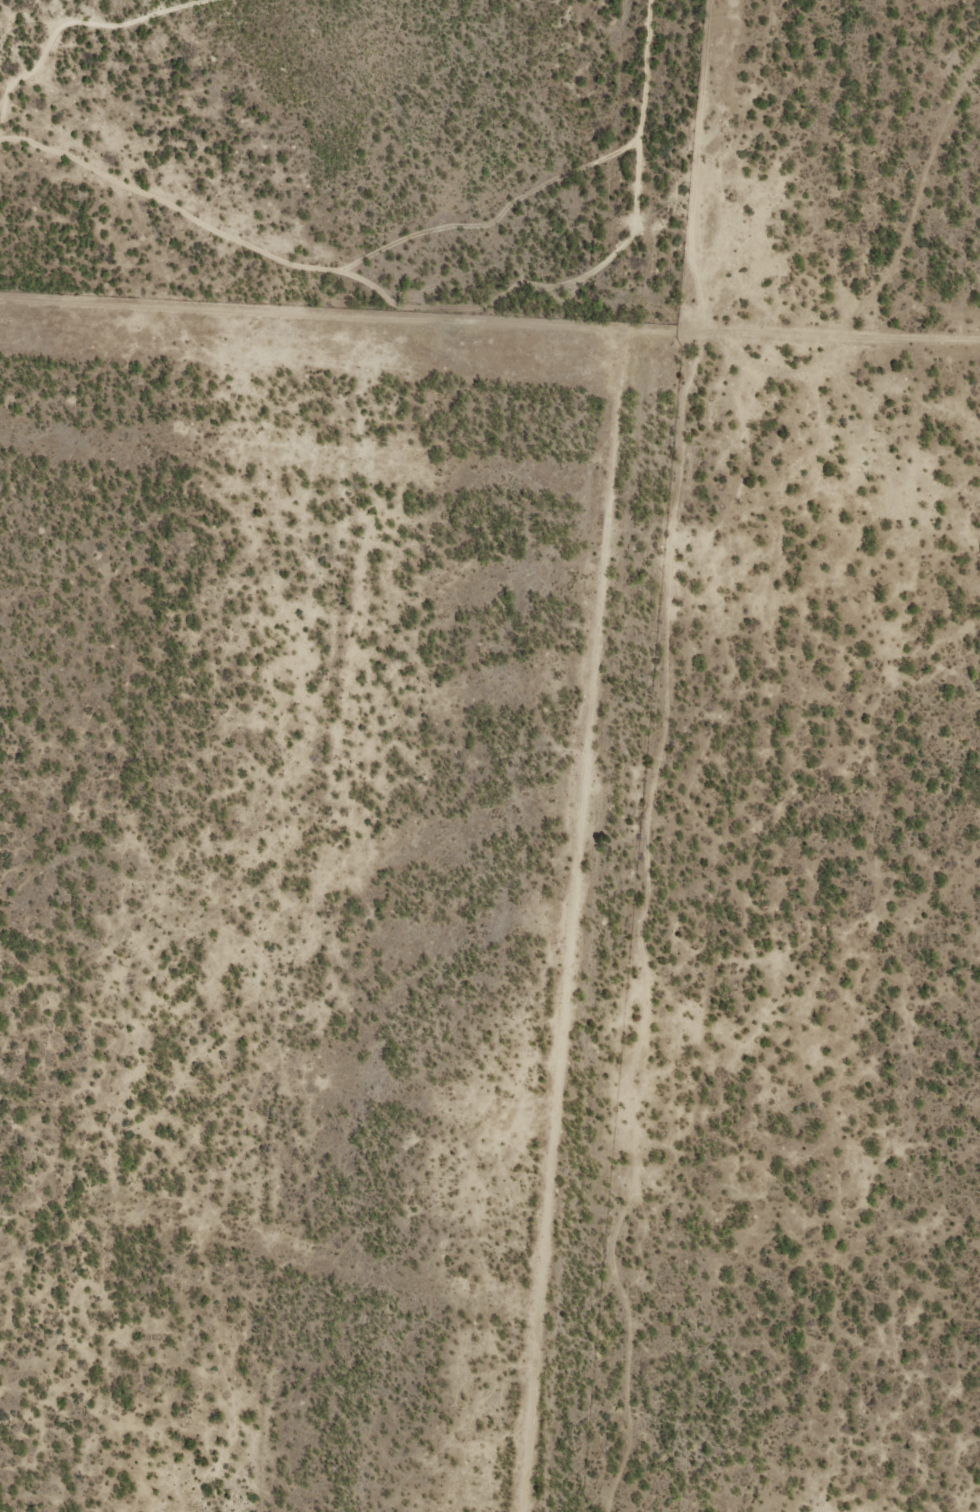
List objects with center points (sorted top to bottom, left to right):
road: (693, 165)
road: (578, 324)
railway: (584, 756)

